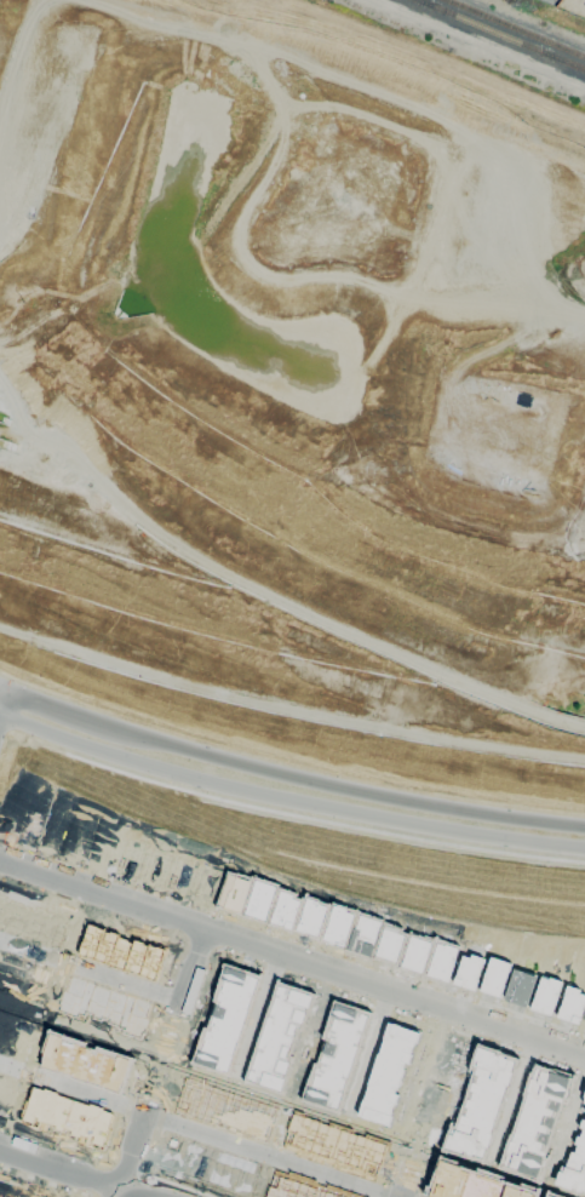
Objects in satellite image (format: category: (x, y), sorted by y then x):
railway: (481, 25)
railway: (517, 28)
railway: (564, 59)
railway: (564, 61)
road: (429, 151)
road: (250, 200)
road: (25, 428)
road: (280, 600)
road: (2, 695)
road: (21, 708)
road: (302, 710)
road: (79, 724)
road: (5, 744)
road: (291, 773)
road: (288, 796)
road: (294, 814)
building: (27, 820)
building: (55, 830)
building: (80, 840)
building: (105, 847)
building: (131, 855)
building: (155, 866)
building: (182, 872)
building: (207, 882)
building: (234, 892)
building: (260, 899)
road: (90, 907)
building: (283, 909)
building: (310, 916)
road: (187, 920)
building: (30, 922)
building: (337, 924)
road: (223, 933)
road: (225, 934)
building: (363, 934)
road: (292, 937)
road: (200, 940)
building: (389, 943)
road: (24, 947)
road: (65, 951)
building: (120, 951)
building: (415, 953)
building: (441, 961)
road: (193, 963)
building: (468, 970)
building: (493, 975)
building: (23, 978)
road: (128, 981)
building: (518, 986)
road: (164, 992)
building: (545, 995)
road: (200, 996)
road: (22, 1004)
road: (179, 1004)
building: (570, 1004)
building: (103, 1006)
road: (46, 1010)
road: (257, 1010)
road: (400, 1012)
building: (225, 1020)
road: (154, 1023)
road: (518, 1030)
road: (97, 1031)
road: (170, 1031)
road: (311, 1033)
building: (15, 1035)
building: (277, 1036)
road: (367, 1048)
park: (161, 1055)
building: (335, 1055)
building: (84, 1063)
road: (7, 1064)
building: (386, 1072)
road: (151, 1087)
building: (5, 1092)
road: (91, 1093)
road: (514, 1095)
building: (583, 1101)
park: (429, 1104)
building: (480, 1104)
road: (143, 1105)
building: (224, 1109)
building: (65, 1116)
building: (534, 1121)
road: (119, 1123)
road: (566, 1124)
road: (155, 1127)
road: (419, 1129)
road: (53, 1142)
building: (334, 1146)
road: (128, 1150)
road: (266, 1153)
road: (107, 1162)
building: (206, 1164)
building: (573, 1164)
road: (58, 1168)
road: (408, 1169)
road: (385, 1175)
road: (41, 1181)
road: (136, 1184)
road: (177, 1184)
building: (469, 1184)
building: (300, 1186)
building: (23, 1189)
road: (400, 1192)
road: (114, 1193)
road: (126, 1193)
building: (69, 1196)

